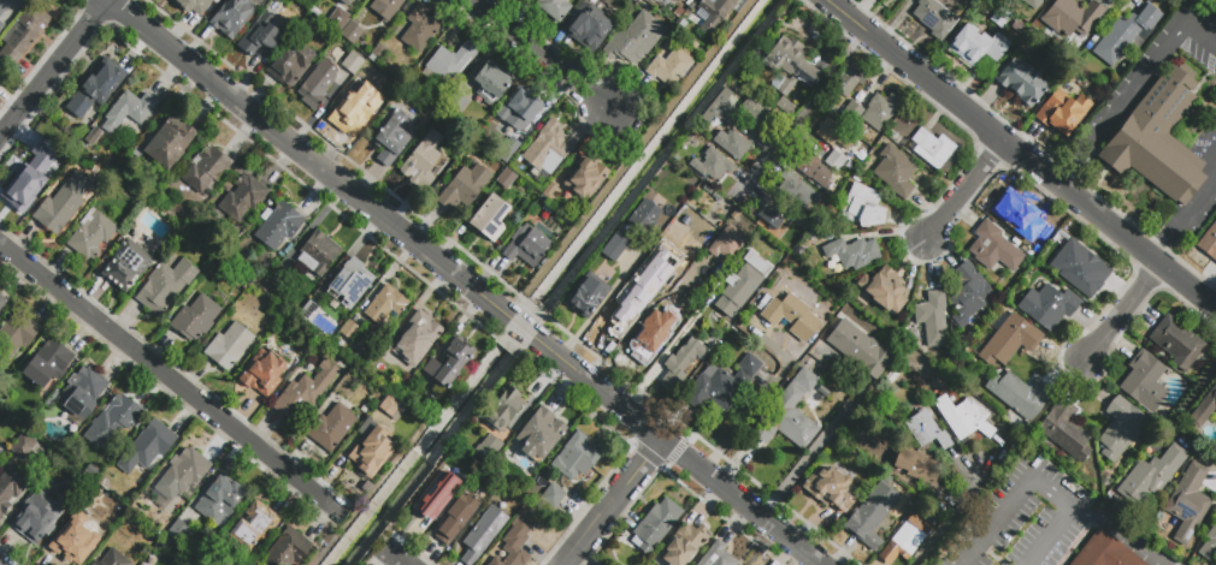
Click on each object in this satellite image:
building: (681, 0)
building: (684, 0)
building: (347, 2)
building: (1031, 2)
building: (4, 5)
building: (193, 6)
building: (385, 8)
building: (554, 8)
building: (714, 13)
building: (231, 17)
building: (1072, 17)
building: (934, 18)
building: (338, 19)
building: (1, 25)
building: (291, 25)
building: (589, 25)
building: (419, 29)
building: (352, 32)
building: (23, 34)
building: (1127, 35)
building: (639, 36)
building: (259, 37)
building: (976, 44)
building: (378, 54)
road: (541, 55)
building: (290, 64)
building: (353, 64)
building: (447, 65)
building: (791, 65)
building: (671, 66)
road: (54, 69)
parking lot: (1151, 72)
building: (850, 79)
building: (1020, 82)
building: (491, 83)
building: (318, 84)
road: (1132, 87)
building: (94, 90)
building: (724, 102)
building: (355, 106)
building: (516, 109)
building: (786, 109)
building: (129, 111)
building: (754, 111)
building: (851, 111)
building: (880, 111)
road: (799, 113)
building: (1061, 113)
building: (714, 114)
building: (424, 115)
building: (392, 135)
building: (834, 135)
building: (92, 137)
building: (1161, 138)
building: (169, 143)
building: (731, 144)
parking lot: (1208, 147)
building: (547, 148)
building: (928, 148)
building: (508, 149)
road: (1212, 154)
road: (1020, 155)
road: (308, 160)
building: (836, 160)
building: (421, 161)
building: (712, 165)
building: (206, 168)
building: (813, 169)
building: (895, 172)
building: (30, 173)
building: (584, 178)
building: (506, 179)
building: (462, 188)
building: (549, 190)
building: (798, 190)
road: (964, 191)
building: (241, 197)
building: (63, 203)
building: (863, 207)
building: (1016, 213)
building: (644, 216)
building: (774, 216)
building: (490, 218)
building: (189, 220)
road: (1182, 220)
building: (277, 226)
building: (92, 236)
building: (167, 236)
building: (726, 242)
building: (1209, 243)
building: (681, 244)
building: (526, 245)
building: (616, 246)
building: (993, 248)
building: (318, 252)
building: (851, 252)
building: (126, 264)
building: (1079, 266)
building: (279, 273)
building: (745, 279)
building: (349, 282)
building: (165, 286)
building: (631, 291)
building: (884, 291)
building: (968, 295)
building: (588, 296)
building: (1, 301)
building: (1049, 305)
building: (318, 307)
building: (386, 307)
road: (1118, 310)
building: (791, 316)
building: (195, 317)
building: (932, 319)
road: (521, 328)
building: (349, 329)
building: (17, 333)
road: (614, 337)
building: (415, 338)
building: (645, 339)
building: (1009, 339)
building: (1176, 343)
building: (228, 346)
building: (858, 350)
building: (384, 359)
building: (683, 362)
building: (48, 363)
building: (449, 363)
building: (262, 373)
road: (173, 380)
building: (1144, 382)
building: (720, 385)
building: (305, 392)
building: (82, 394)
road: (1191, 397)
building: (1020, 398)
building: (390, 403)
building: (502, 410)
building: (1205, 412)
building: (789, 414)
building: (963, 417)
building: (116, 418)
building: (332, 427)
building: (1120, 428)
building: (926, 430)
building: (1066, 432)
building: (539, 434)
building: (23, 446)
building: (148, 446)
building: (488, 447)
building: (1, 450)
building: (371, 450)
road: (678, 451)
building: (575, 458)
road: (798, 466)
building: (61, 468)
building: (922, 470)
building: (183, 474)
building: (1151, 475)
building: (10, 487)
building: (831, 487)
road: (1052, 496)
building: (432, 498)
building: (551, 498)
road: (613, 501)
building: (1188, 502)
building: (219, 504)
building: (872, 512)
road: (956, 516)
building: (1215, 516)
building: (37, 517)
building: (455, 519)
parking lot: (1027, 519)
road: (998, 523)
building: (655, 525)
building: (254, 528)
building: (142, 529)
building: (178, 530)
building: (483, 535)
building: (75, 539)
building: (907, 539)
road: (1052, 539)
building: (514, 543)
road: (1137, 543)
building: (1209, 543)
building: (684, 546)
building: (288, 548)
building: (1104, 552)
building: (716, 555)
building: (196, 558)
road: (395, 558)
building: (113, 559)
building: (187, 563)
building: (742, 564)

